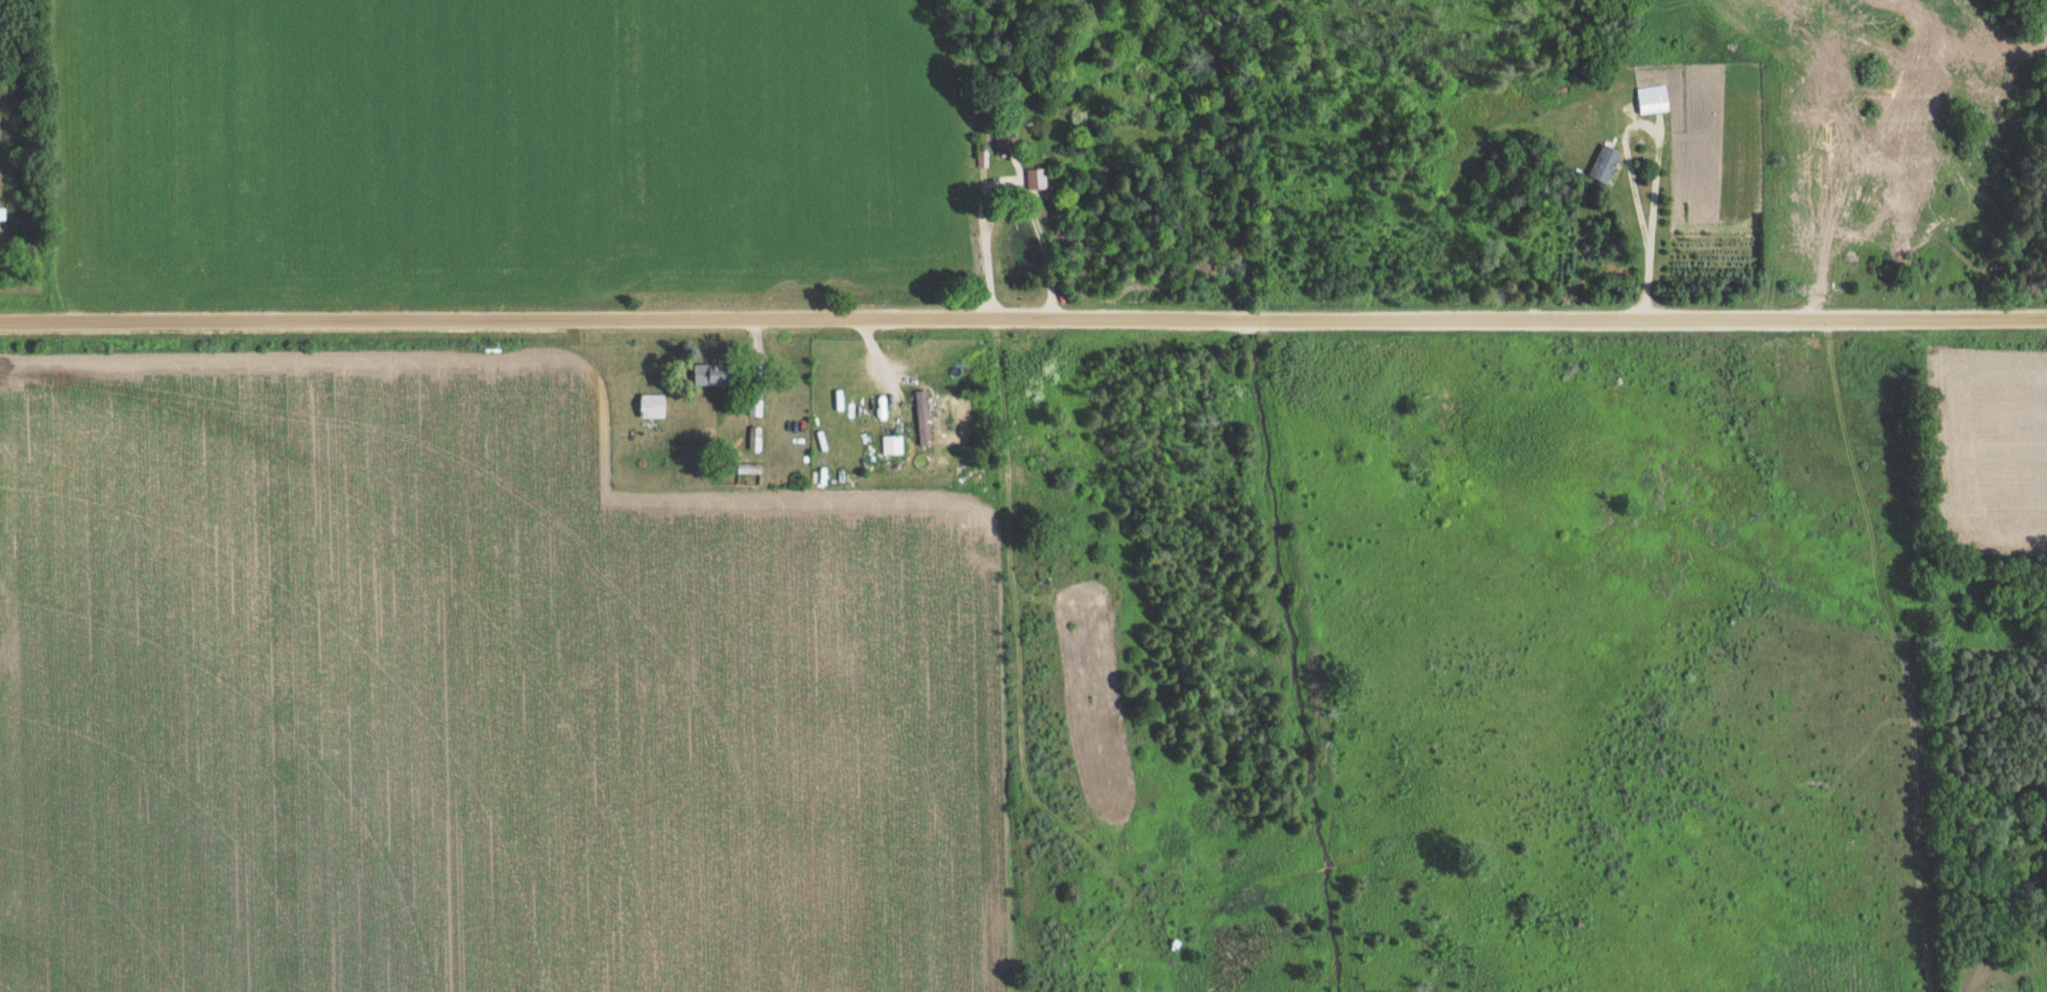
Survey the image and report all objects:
building: (1653, 99)
road: (1657, 147)
park: (7, 155)
building: (1605, 164)
building: (1037, 179)
road: (1000, 201)
road: (1034, 203)
building: (2, 214)
road: (1040, 235)
road: (984, 248)
road: (1845, 320)
road: (1348, 321)
road: (526, 323)
building: (723, 375)
building: (653, 405)
building: (924, 418)
building: (893, 444)

